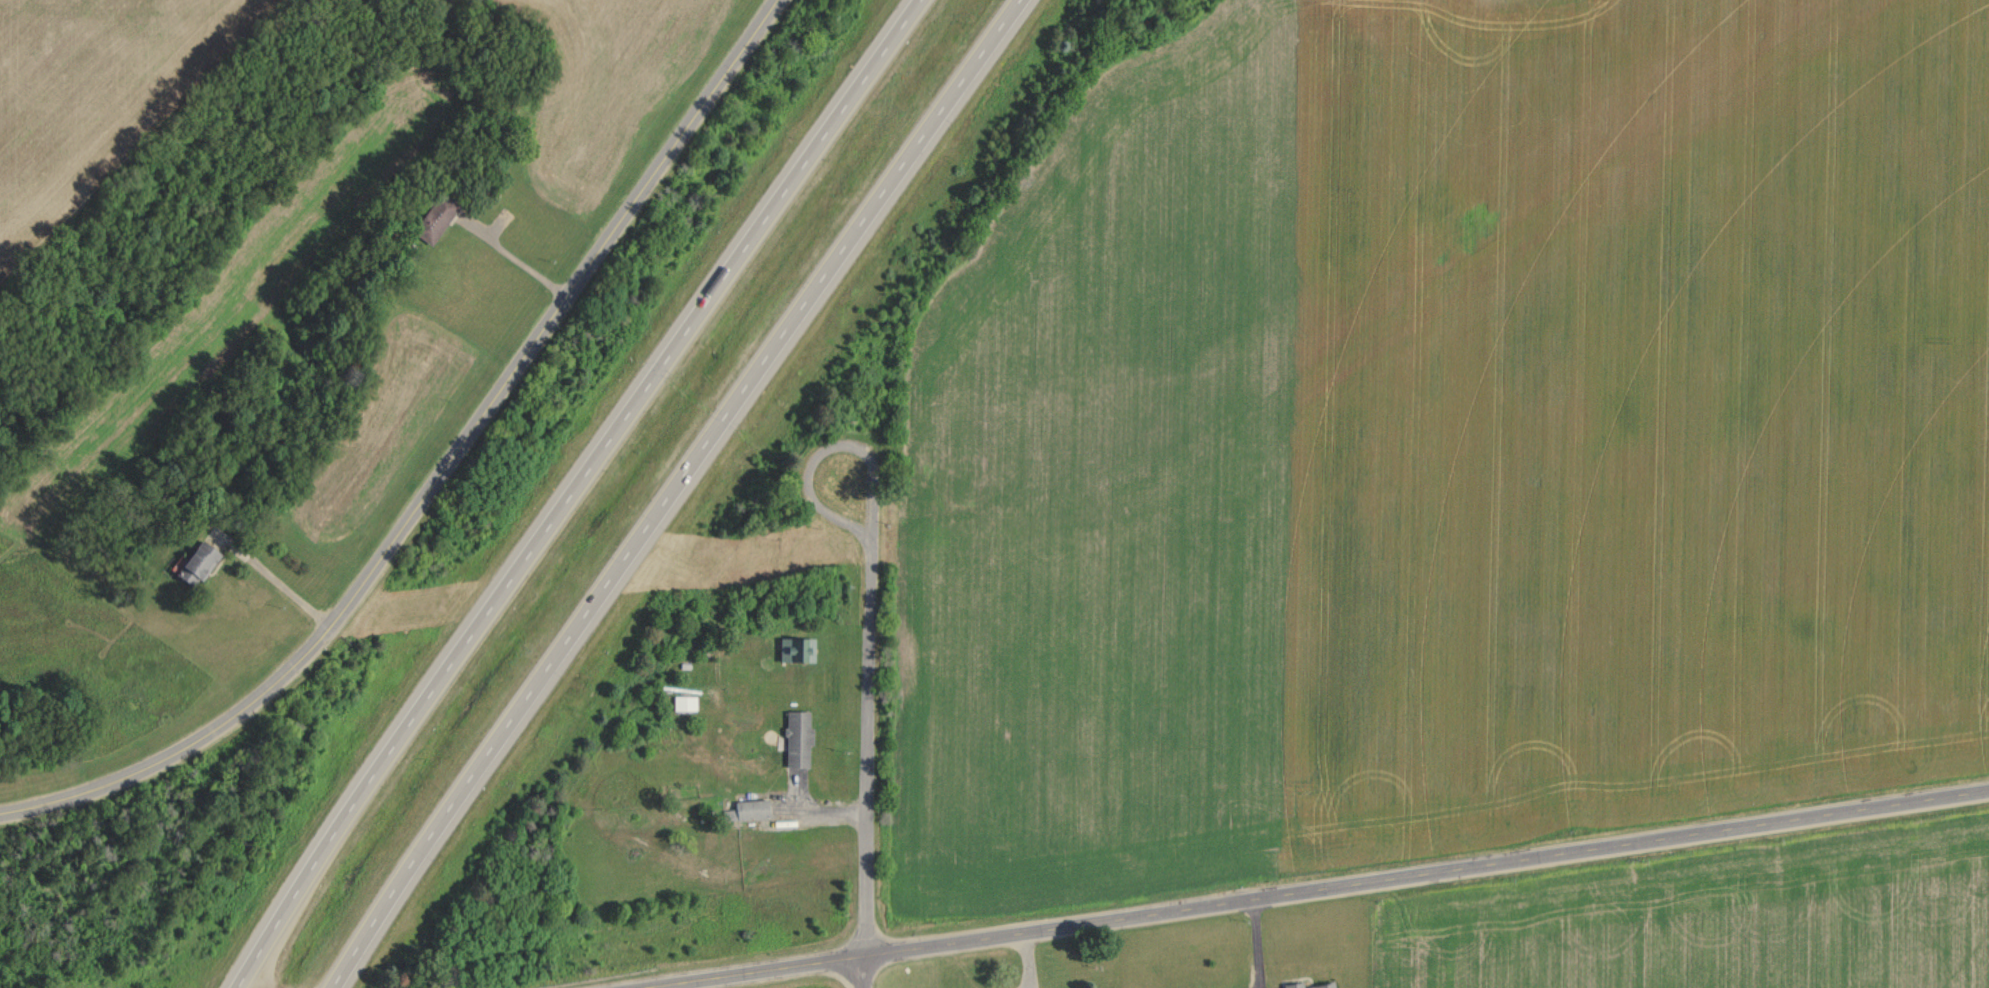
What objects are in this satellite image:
building: (434, 217)
road: (508, 264)
road: (440, 470)
road: (574, 490)
road: (671, 490)
road: (273, 589)
road: (870, 611)
building: (686, 702)
building: (800, 739)
building: (749, 810)
road: (1311, 889)
road: (863, 971)
road: (259, 981)

